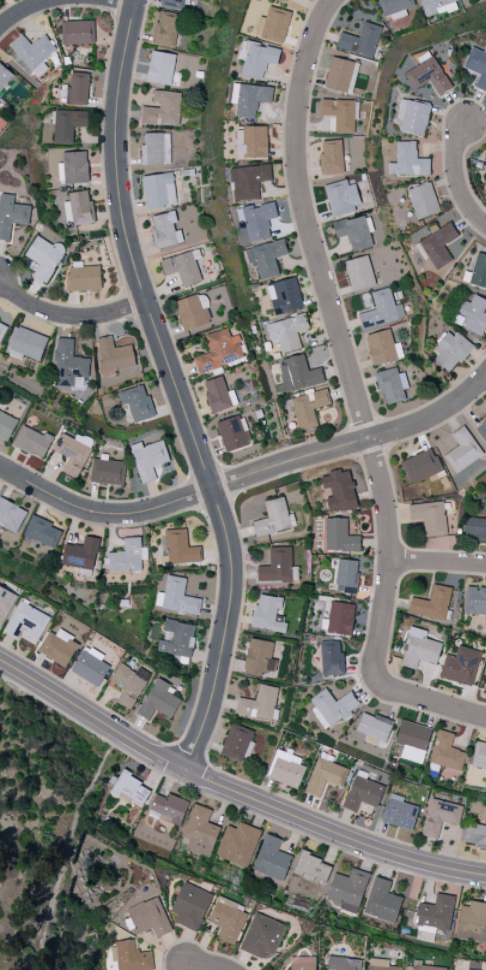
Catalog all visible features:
road: (118, 1)
building: (173, 4)
building: (436, 6)
road: (36, 7)
building: (394, 7)
building: (273, 25)
building: (165, 29)
building: (77, 32)
building: (361, 40)
building: (32, 54)
building: (257, 58)
building: (477, 66)
building: (160, 68)
building: (339, 74)
building: (428, 74)
building: (4, 76)
building: (249, 98)
building: (162, 109)
building: (340, 114)
building: (413, 116)
building: (67, 125)
building: (251, 141)
building: (155, 148)
building: (331, 157)
building: (408, 160)
building: (73, 167)
road: (456, 176)
building: (248, 181)
building: (158, 190)
building: (342, 197)
building: (423, 200)
building: (78, 208)
building: (11, 215)
building: (257, 220)
building: (165, 230)
building: (354, 232)
building: (438, 245)
building: (44, 257)
building: (266, 258)
building: (182, 268)
building: (477, 272)
building: (359, 273)
building: (83, 278)
building: (284, 296)
building: (381, 310)
building: (192, 312)
road: (68, 315)
building: (472, 315)
building: (2, 328)
road: (336, 330)
building: (287, 332)
building: (26, 344)
building: (382, 347)
building: (451, 350)
building: (219, 351)
building: (113, 357)
building: (68, 364)
building: (298, 373)
building: (391, 385)
road: (174, 386)
building: (216, 394)
building: (137, 402)
building: (307, 408)
building: (6, 425)
building: (482, 430)
building: (233, 433)
building: (32, 442)
building: (462, 451)
building: (73, 452)
building: (148, 459)
building: (420, 466)
building: (107, 472)
road: (245, 475)
building: (339, 491)
building: (11, 515)
building: (430, 517)
building: (475, 529)
building: (339, 536)
building: (178, 548)
building: (80, 554)
building: (126, 557)
road: (437, 562)
building: (278, 566)
building: (346, 576)
building: (176, 597)
building: (475, 600)
building: (5, 603)
building: (432, 603)
building: (267, 614)
building: (340, 616)
building: (485, 619)
building: (27, 623)
building: (177, 639)
building: (58, 647)
building: (419, 649)
building: (259, 657)
building: (331, 658)
building: (90, 666)
building: (460, 666)
building: (129, 684)
building: (158, 700)
road: (422, 700)
building: (258, 703)
building: (331, 707)
road: (92, 715)
building: (374, 726)
building: (412, 741)
building: (236, 742)
building: (446, 752)
building: (479, 755)
building: (286, 769)
building: (325, 776)
building: (130, 788)
building: (362, 793)
building: (169, 808)
building: (399, 813)
building: (440, 816)
building: (199, 831)
road: (332, 831)
building: (475, 835)
building: (238, 844)
building: (271, 859)
building: (311, 867)
building: (348, 890)
building: (382, 901)
building: (190, 906)
building: (149, 917)
building: (227, 920)
building: (472, 922)
building: (262, 936)
building: (130, 956)
building: (302, 963)
building: (343, 963)
building: (380, 965)
road: (208, 966)
building: (425, 966)

